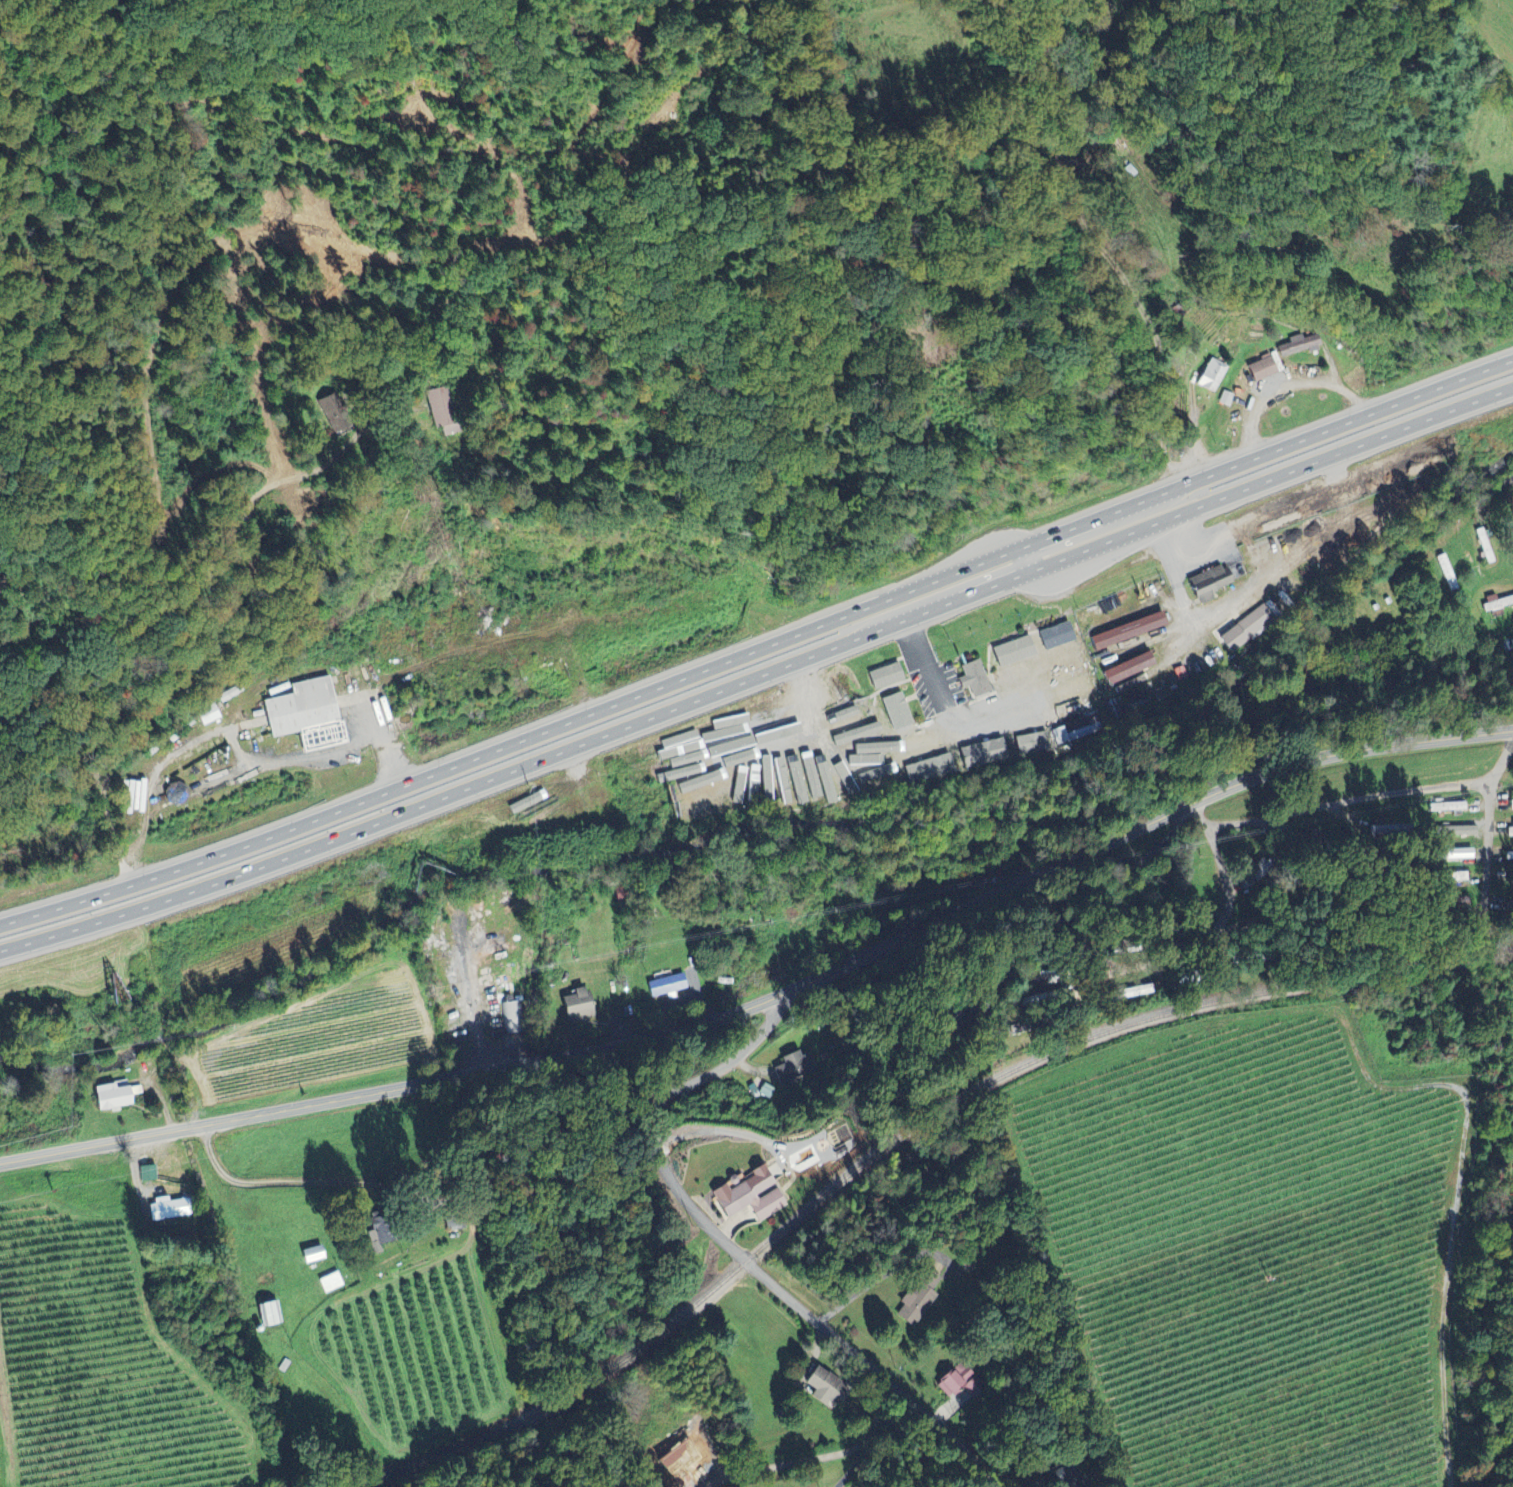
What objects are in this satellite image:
road: (11, 184)
road: (21, 189)
building: (1208, 375)
building: (441, 409)
road: (1502, 505)
road: (1369, 536)
building: (1206, 582)
building: (1243, 627)
building: (1121, 630)
building: (1052, 634)
road: (759, 647)
building: (1009, 650)
building: (1120, 667)
road: (758, 675)
building: (880, 675)
building: (987, 676)
building: (1069, 688)
road: (238, 712)
building: (307, 716)
building: (844, 720)
building: (1056, 734)
building: (918, 741)
building: (980, 752)
building: (926, 767)
building: (877, 771)
building: (826, 782)
building: (807, 789)
road: (1361, 799)
building: (1444, 805)
building: (1457, 829)
road: (1492, 847)
building: (1451, 853)
road: (1075, 930)
road: (1207, 937)
building: (667, 987)
road: (773, 996)
building: (578, 1007)
building: (512, 1019)
building: (796, 1067)
building: (769, 1092)
railway: (897, 1142)
building: (150, 1175)
road: (312, 1180)
building: (751, 1197)
building: (170, 1210)
building: (382, 1238)
road: (740, 1252)
building: (313, 1255)
building: (332, 1283)
building: (917, 1298)
building: (270, 1314)
building: (949, 1382)
building: (827, 1387)
road: (820, 1455)

